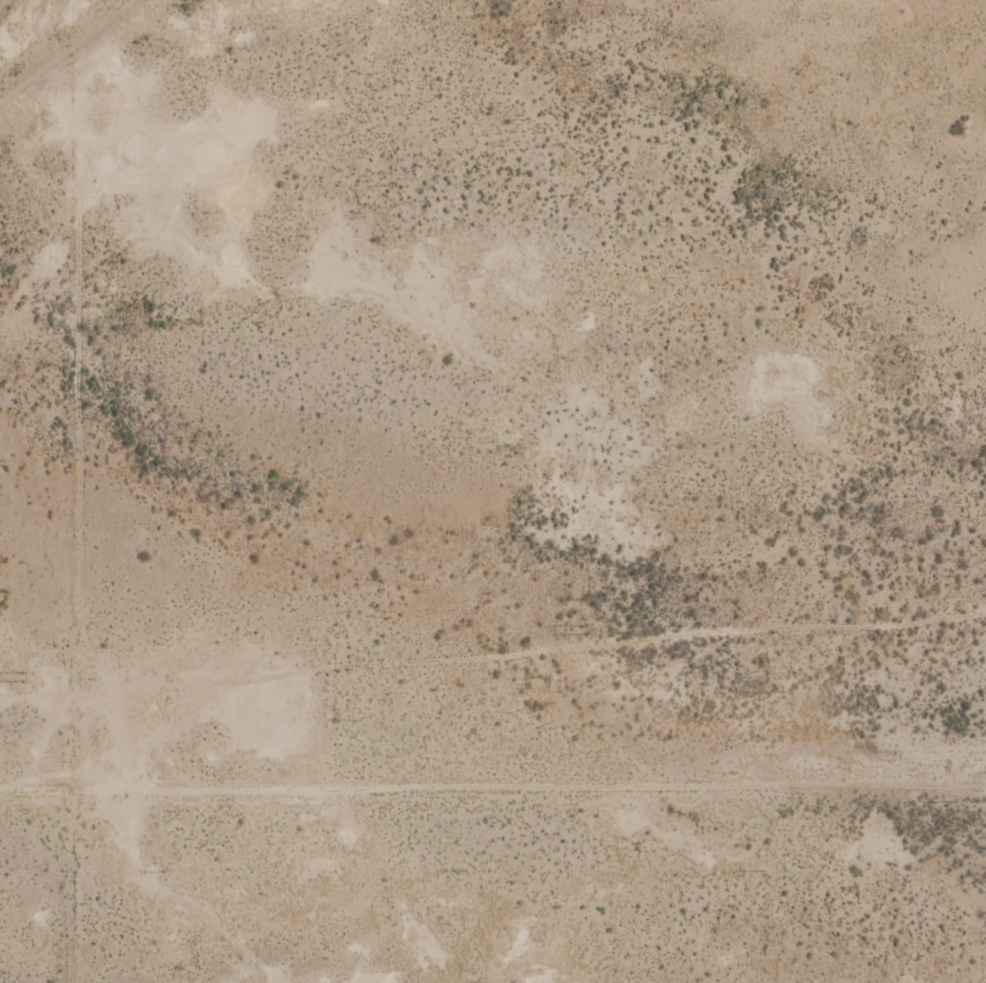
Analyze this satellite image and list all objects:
road: (74, 58)
road: (493, 653)

